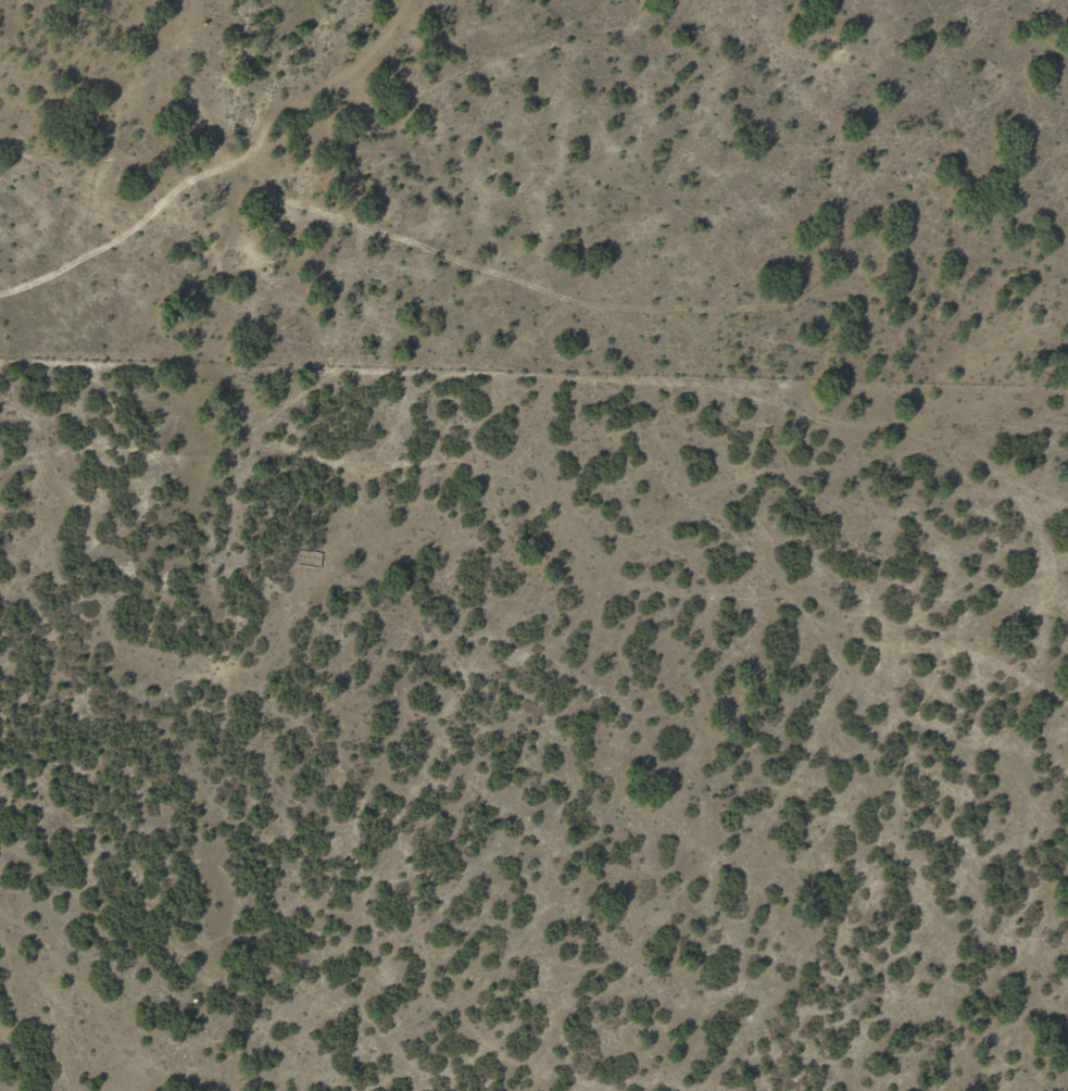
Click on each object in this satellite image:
road: (616, 471)

